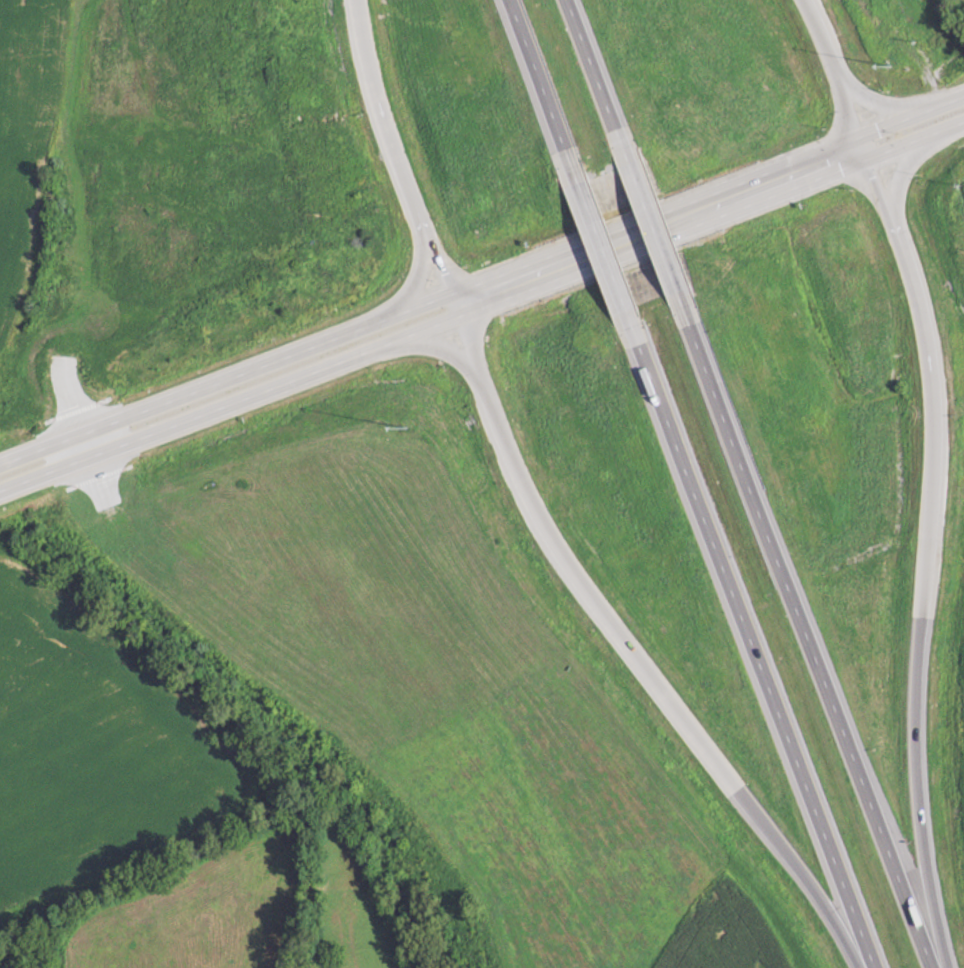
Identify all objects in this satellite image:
road: (354, 9)
road: (596, 73)
road: (836, 81)
road: (540, 83)
road: (873, 104)
road: (908, 114)
road: (384, 129)
road: (868, 174)
road: (897, 174)
road: (711, 217)
road: (653, 226)
road: (602, 247)
road: (415, 276)
road: (443, 276)
road: (426, 298)
road: (925, 341)
road: (437, 343)
road: (229, 399)
road: (806, 637)
road: (625, 642)
road: (752, 648)
road: (914, 715)

